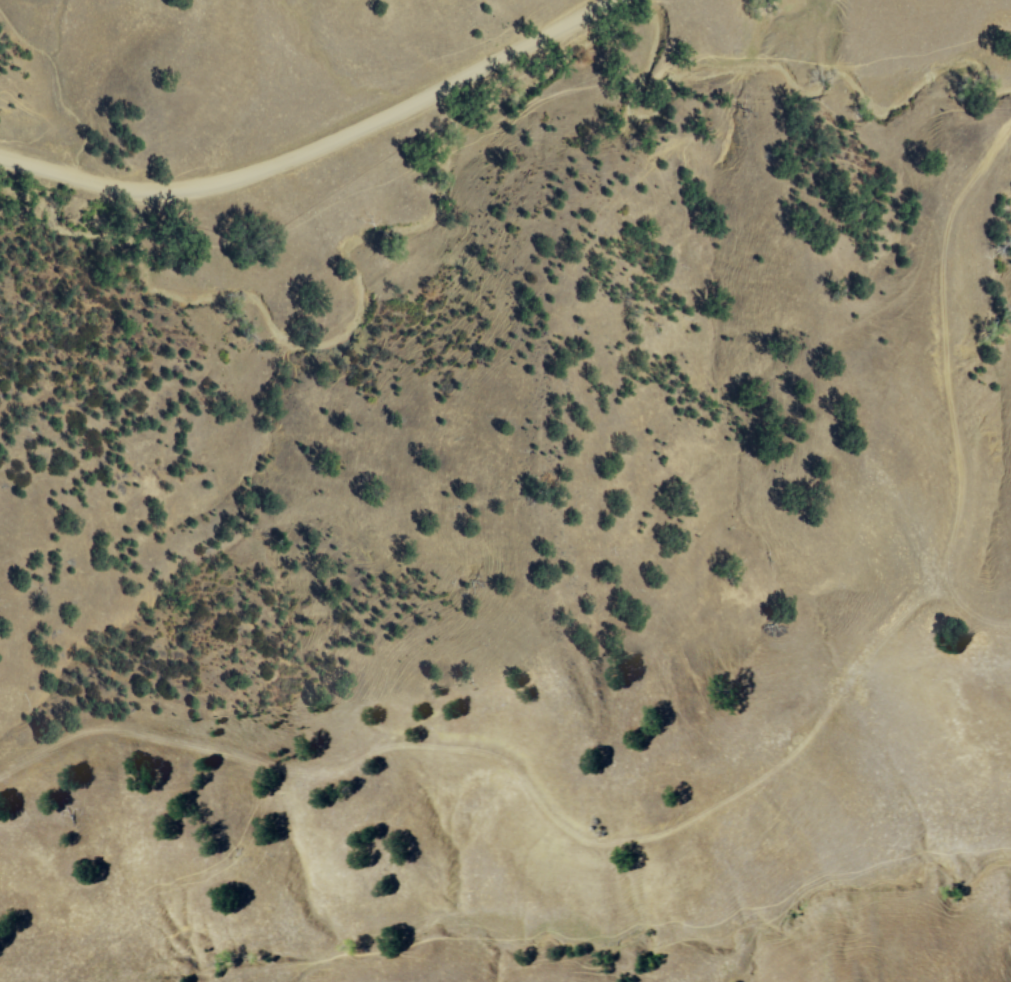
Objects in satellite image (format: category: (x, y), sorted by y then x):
road: (321, 147)

